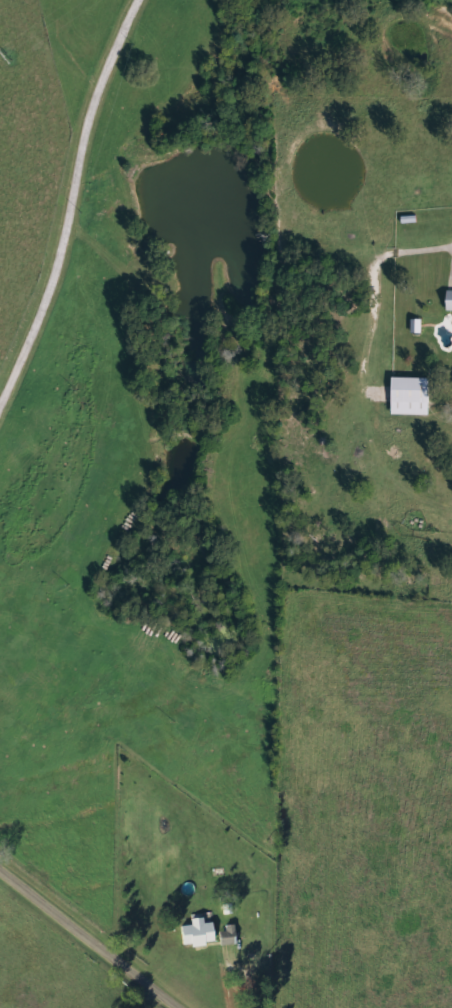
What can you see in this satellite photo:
power tower: (9, 57)
building: (451, 311)
building: (416, 397)
building: (201, 933)
building: (231, 935)
road: (86, 939)

